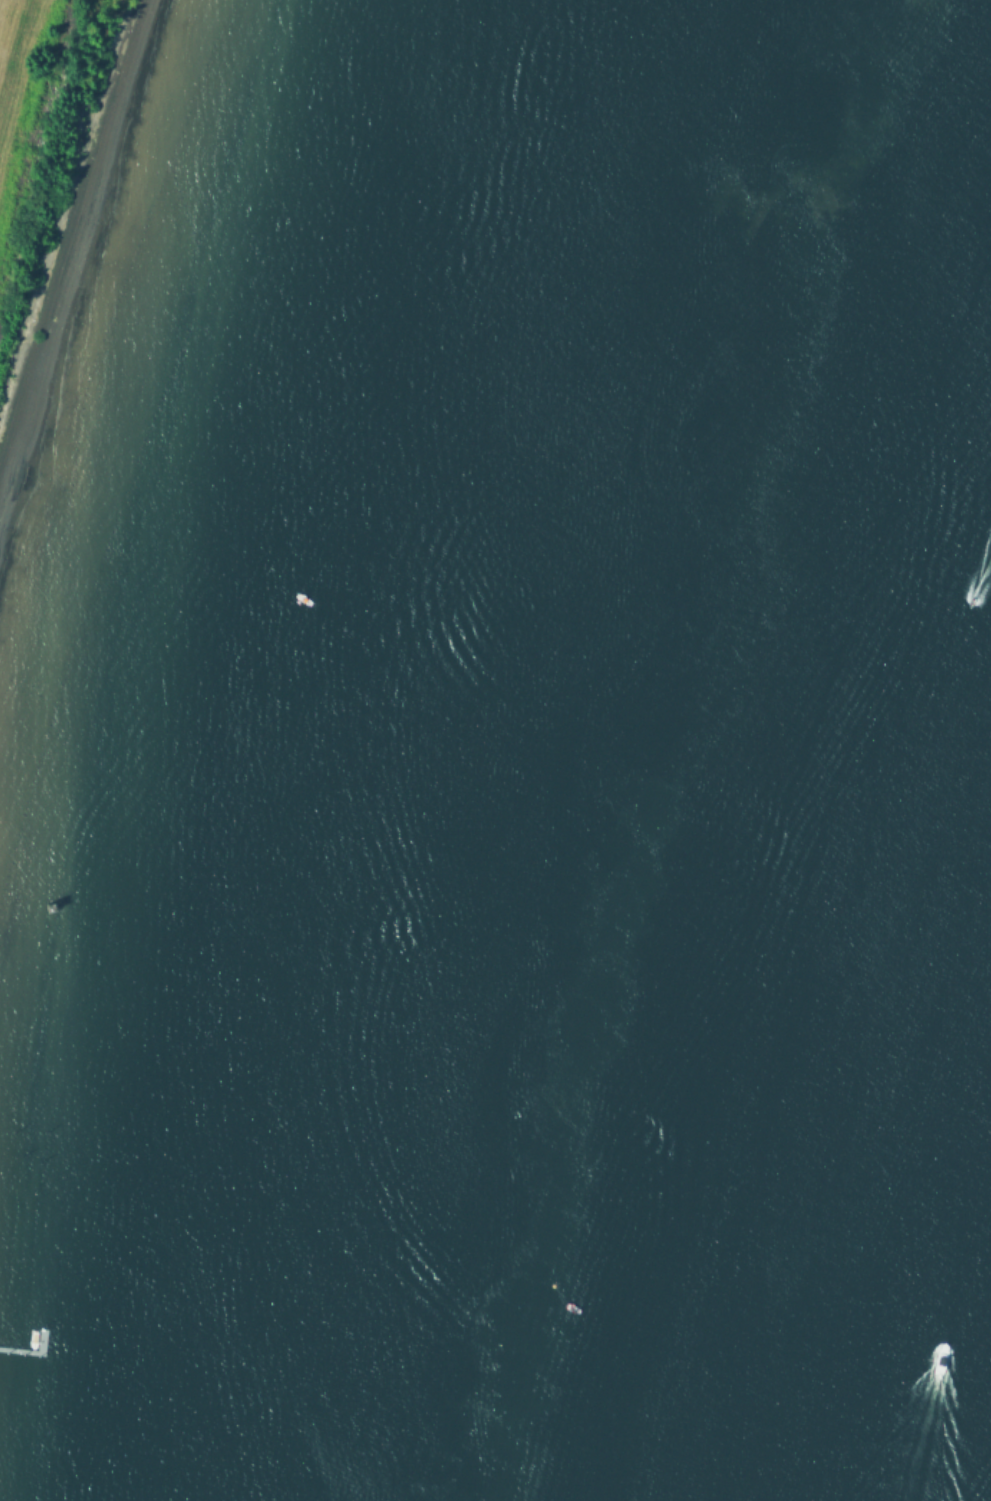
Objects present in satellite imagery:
river: (698, 783)
pier: (31, 1351)

